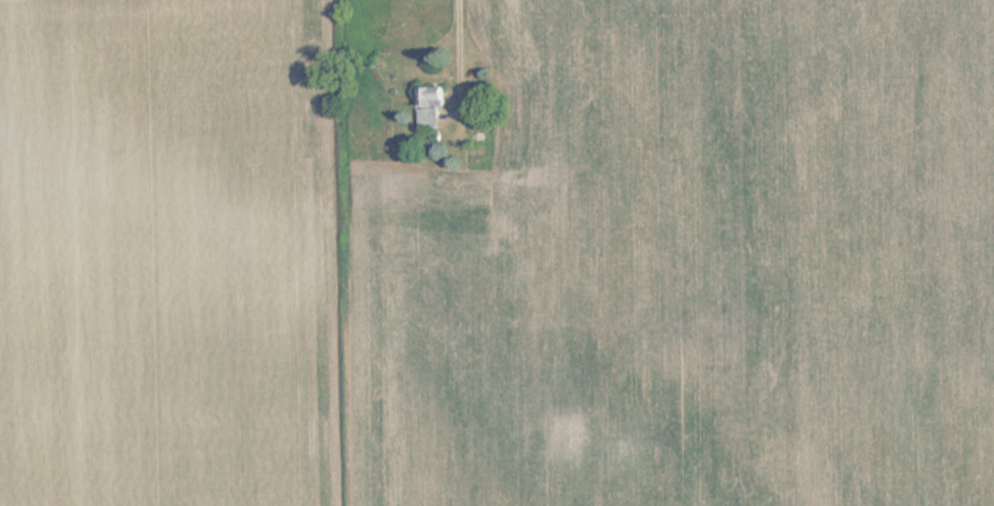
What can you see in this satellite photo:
building: (434, 106)

